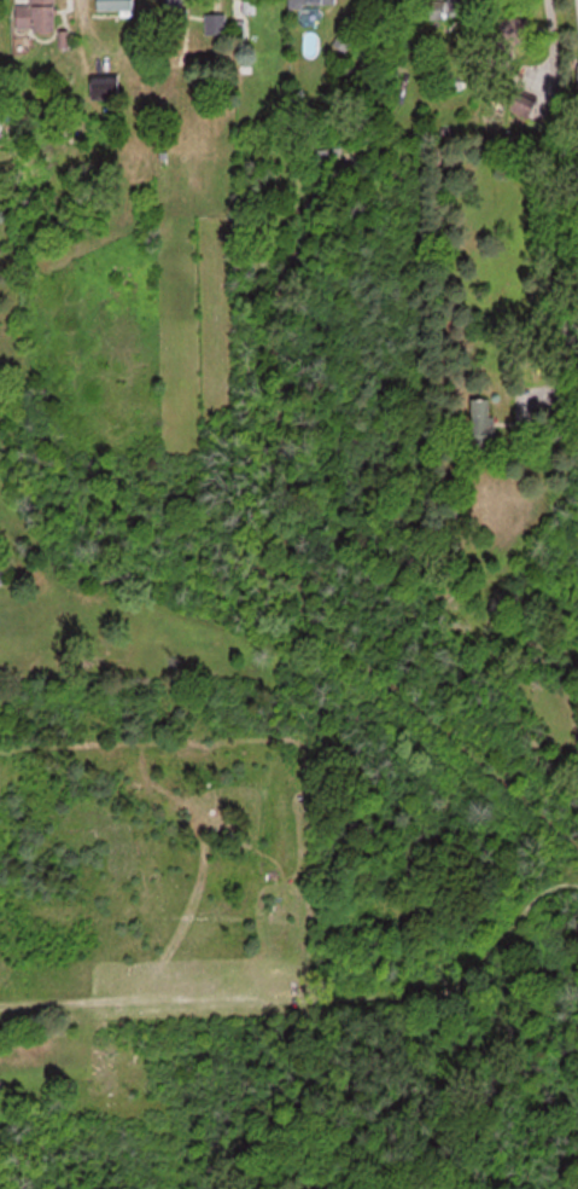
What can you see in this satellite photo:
building: (320, 1)
building: (117, 5)
building: (249, 6)
building: (175, 8)
building: (446, 8)
building: (39, 16)
building: (216, 24)
building: (515, 30)
building: (525, 105)
building: (0, 124)
road: (559, 193)
building: (484, 418)
building: (0, 578)

